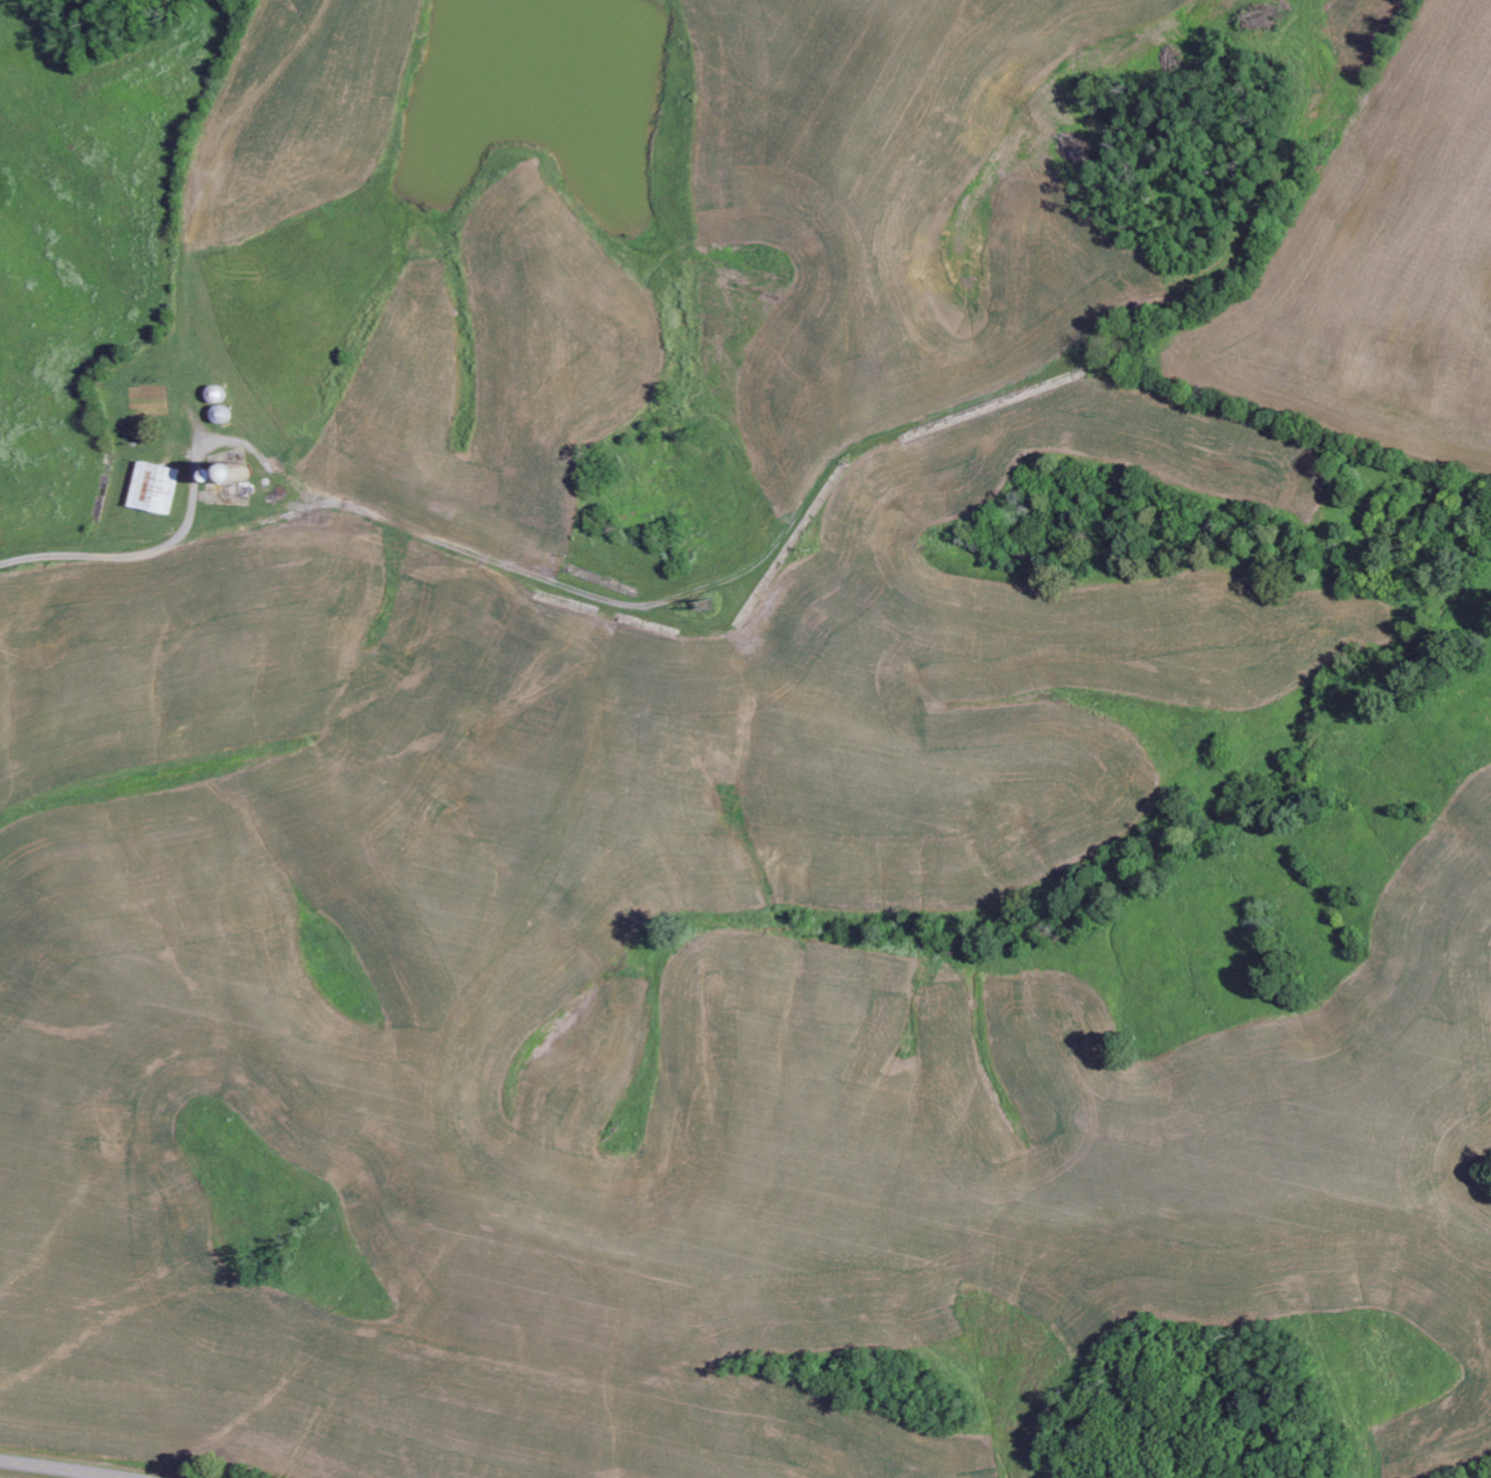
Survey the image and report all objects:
road: (842, 204)
road: (205, 243)
building: (156, 487)
road: (781, 524)
road: (59, 1469)

